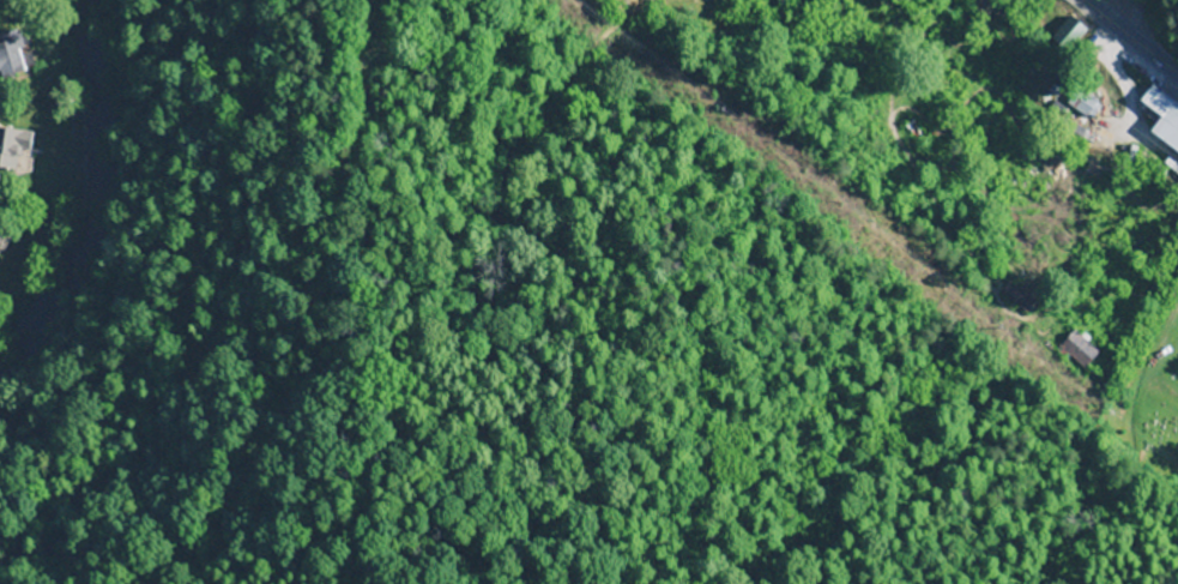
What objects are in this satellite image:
building: (1067, 36)
road: (576, 40)
road: (1126, 40)
building: (8, 56)
building: (1079, 110)
building: (1160, 119)
building: (10, 149)
river: (84, 194)
building: (1025, 302)
road: (224, 320)
building: (1077, 351)

